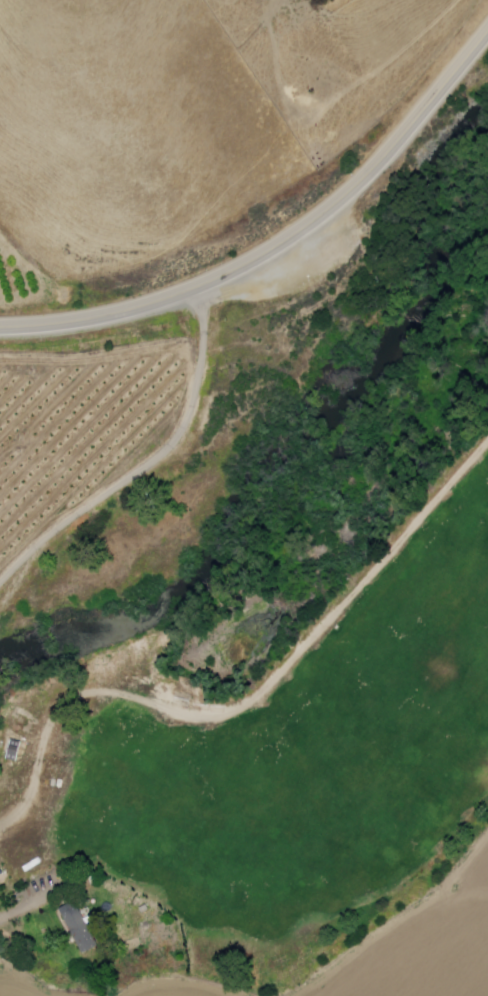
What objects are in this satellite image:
road: (280, 244)
crop: (80, 432)
road: (152, 463)
road: (252, 700)
park: (311, 759)
crop: (476, 878)
building: (81, 931)
crop: (419, 958)
crop: (10, 987)
crop: (172, 991)

